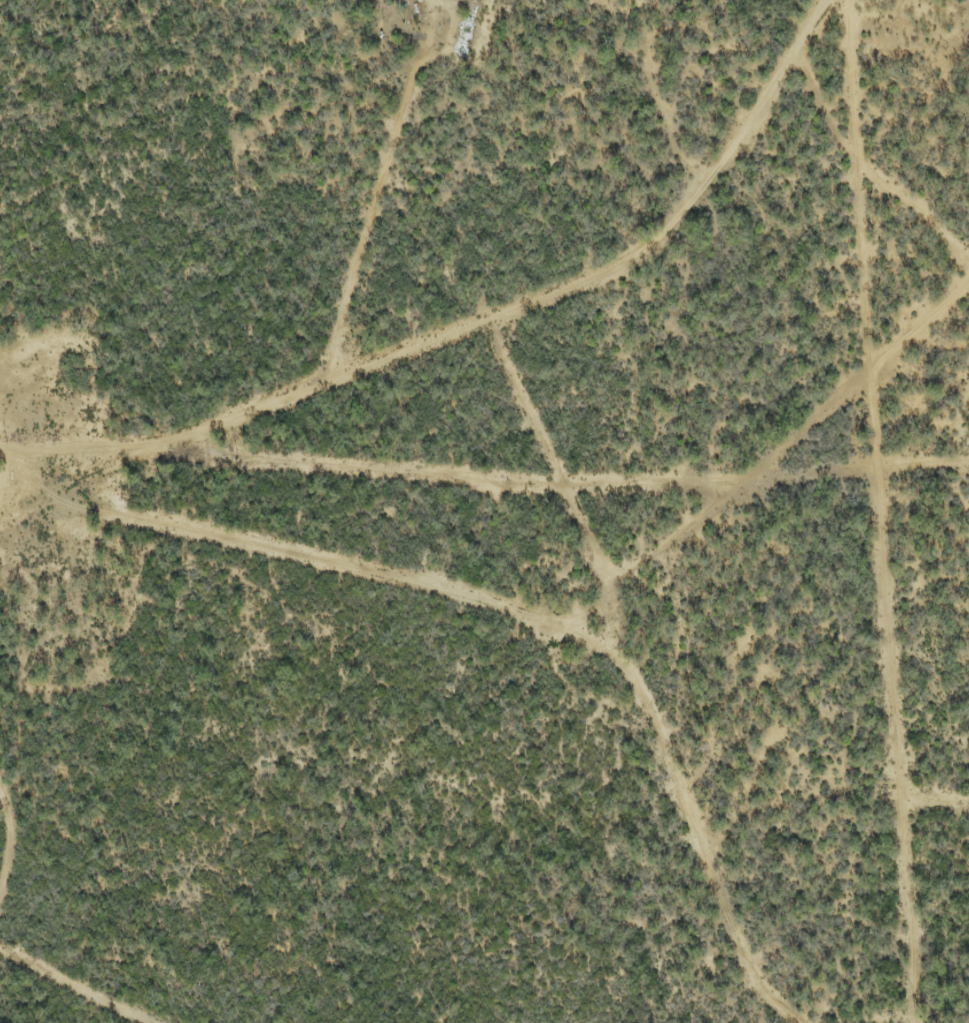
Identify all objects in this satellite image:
road: (475, 325)

